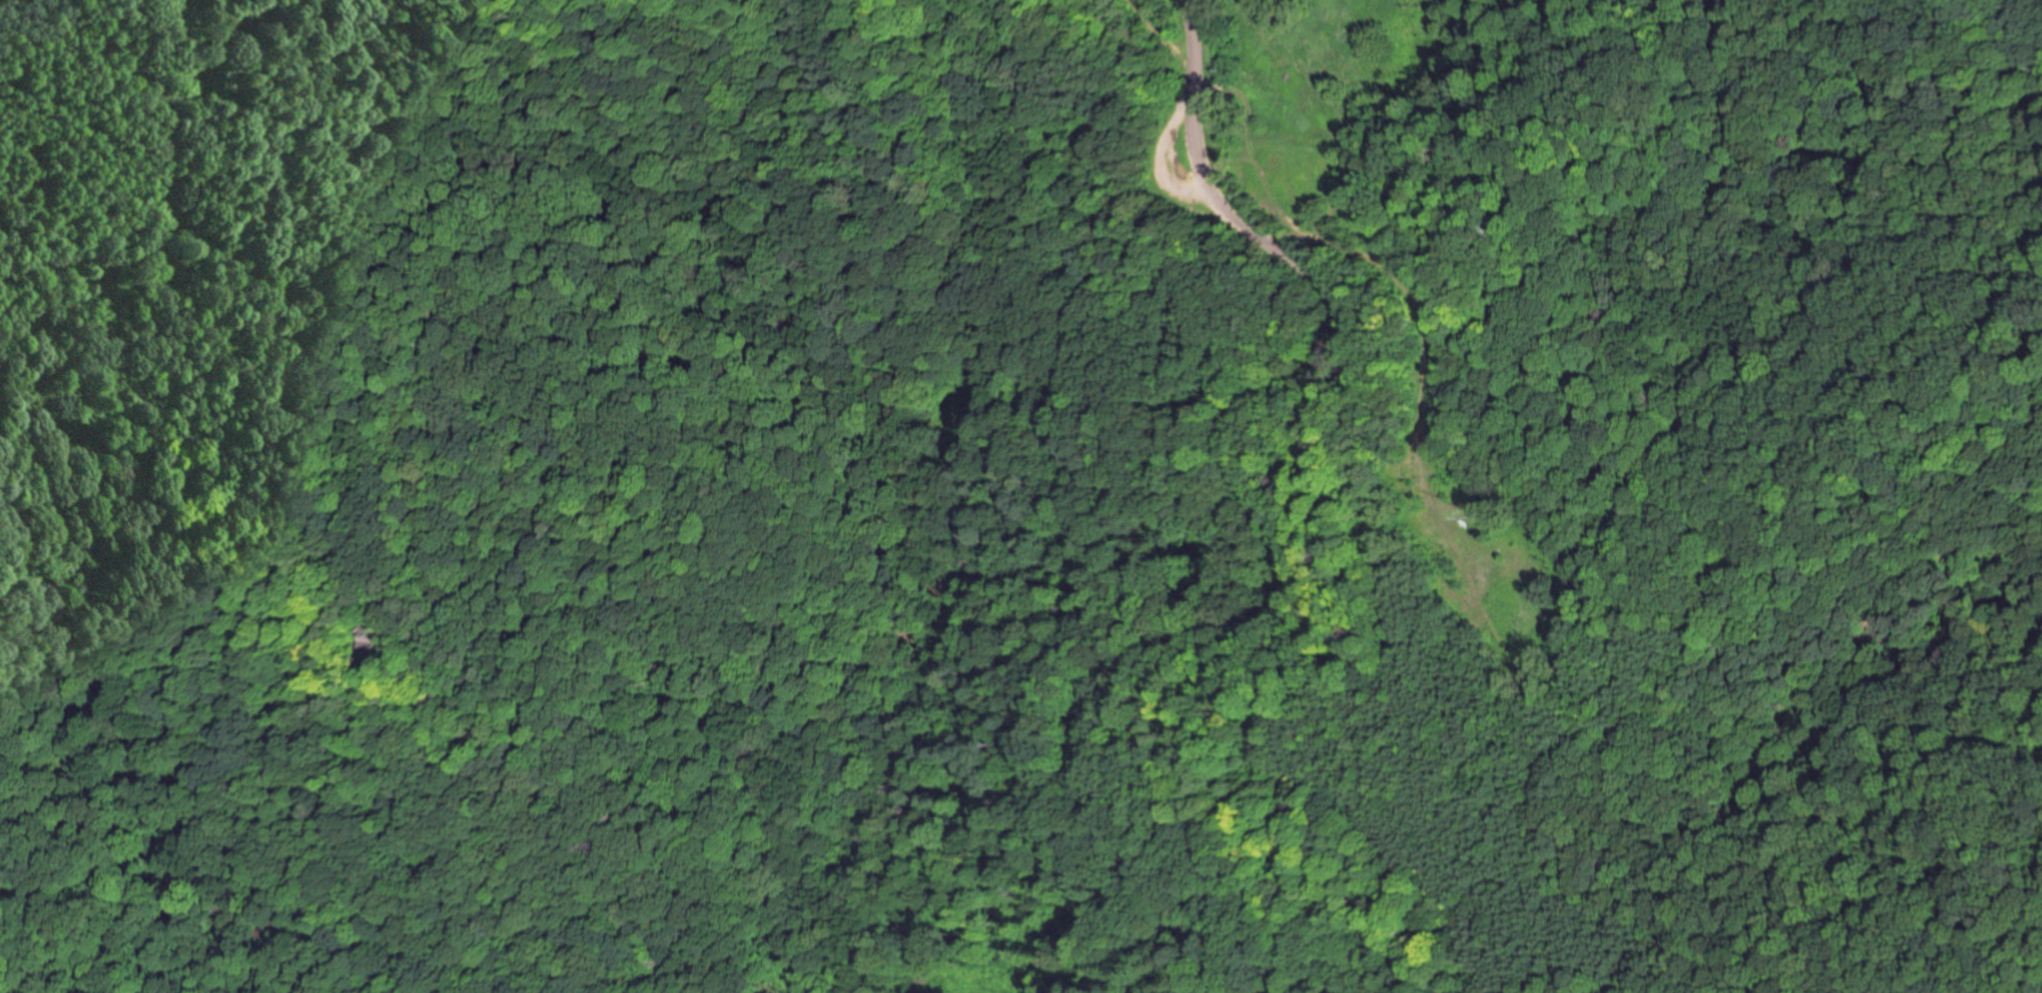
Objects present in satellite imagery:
road: (1160, 16)
road: (227, 276)
park: (1625, 507)
road: (1265, 530)
building: (383, 635)

